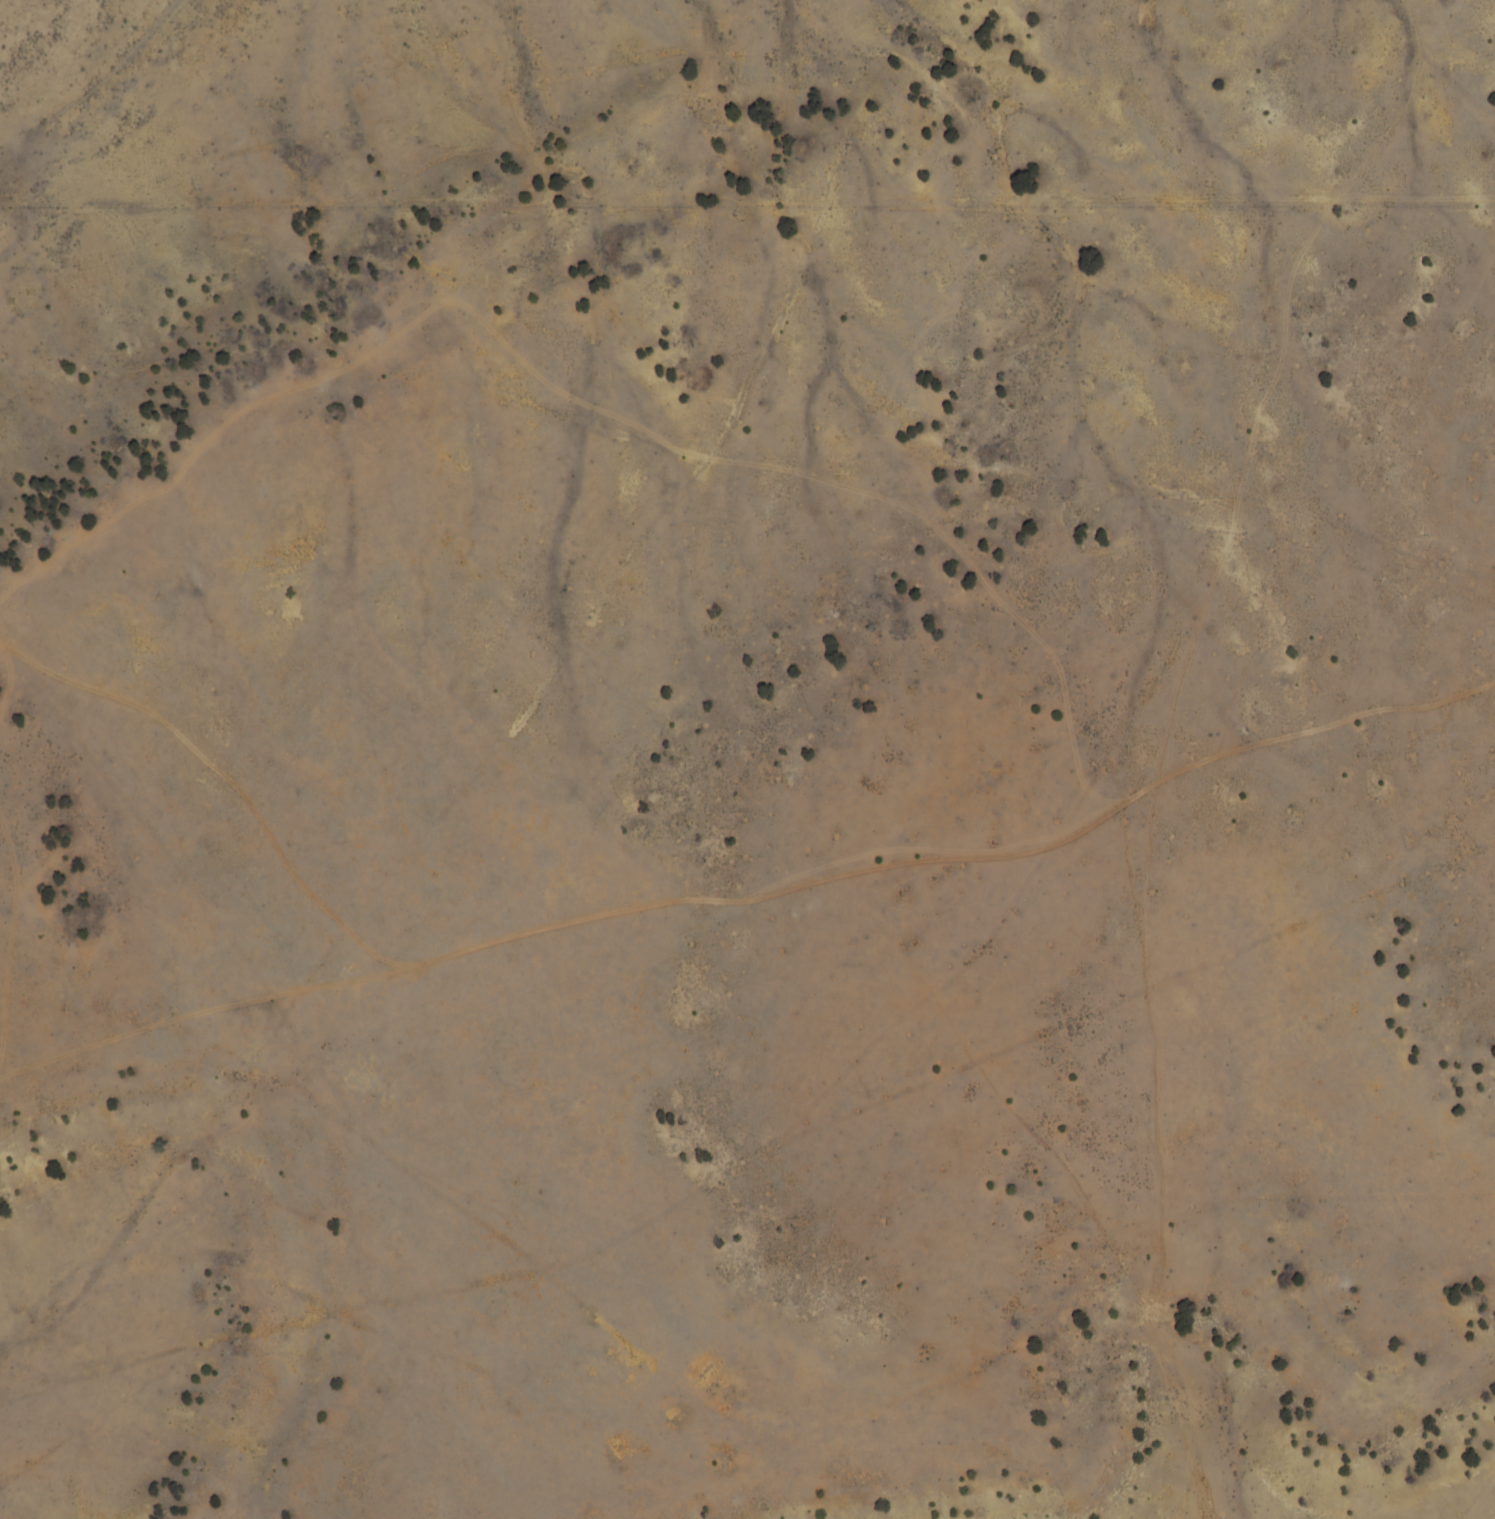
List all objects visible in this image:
road: (950, 858)

